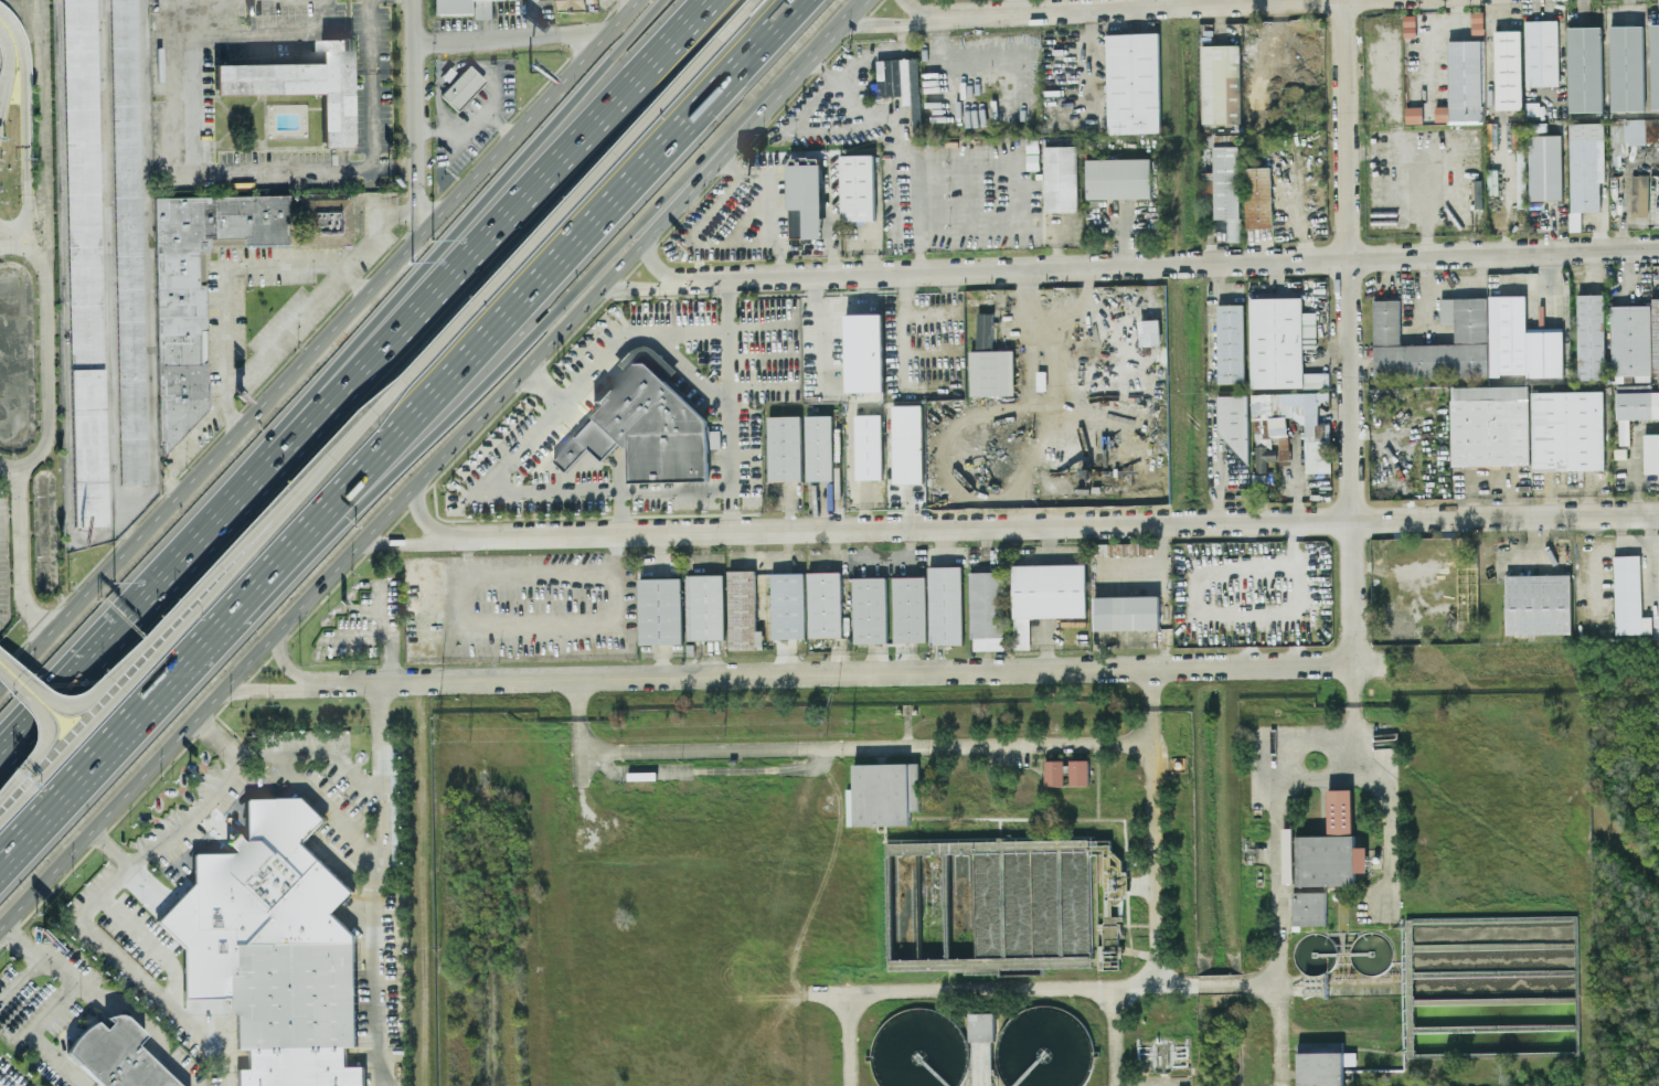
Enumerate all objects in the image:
road: (1145, 3)
building: (574, 6)
road: (1015, 6)
building: (467, 7)
road: (625, 7)
road: (1114, 8)
road: (916, 12)
road: (183, 18)
road: (734, 19)
building: (1477, 22)
road: (885, 24)
road: (270, 32)
road: (828, 32)
road: (509, 40)
road: (1562, 46)
building: (1541, 52)
parking lot: (0, 58)
road: (8, 65)
building: (1655, 65)
building: (1627, 67)
building: (1585, 68)
building: (1508, 70)
building: (445, 75)
building: (901, 83)
building: (1132, 83)
building: (1463, 83)
road: (371, 84)
building: (300, 85)
building: (460, 85)
road: (24, 104)
road: (487, 111)
road: (413, 115)
building: (1415, 116)
road: (891, 117)
road: (500, 125)
building: (1538, 127)
building: (1634, 130)
road: (443, 131)
building: (1517, 134)
road: (42, 135)
building: (1585, 164)
building: (1544, 167)
building: (1520, 171)
road: (231, 172)
building: (1060, 178)
building: (1117, 178)
building: (1208, 181)
building: (858, 187)
road: (1012, 187)
building: (1226, 191)
building: (1639, 192)
building: (1257, 196)
road: (358, 198)
building: (805, 200)
road: (773, 202)
road: (403, 213)
road: (1624, 216)
building: (325, 221)
building: (1574, 221)
road: (19, 222)
road: (23, 222)
road: (28, 228)
road: (456, 230)
road: (486, 235)
road: (17, 238)
road: (6, 239)
building: (128, 241)
road: (17, 247)
road: (39, 262)
building: (84, 262)
road: (110, 262)
road: (650, 262)
road: (1165, 266)
road: (63, 269)
road: (501, 270)
road: (226, 273)
road: (354, 279)
road: (631, 288)
building: (196, 291)
road: (149, 295)
road: (519, 310)
road: (345, 316)
building: (983, 331)
building: (1149, 331)
road: (1349, 331)
building: (1470, 333)
road: (629, 334)
building: (1591, 336)
building: (1636, 340)
road: (515, 341)
building: (1521, 341)
road: (272, 342)
building: (1231, 342)
building: (1282, 343)
road: (1060, 350)
building: (864, 356)
building: (991, 372)
road: (47, 375)
building: (1635, 406)
road: (231, 412)
road: (730, 412)
building: (1489, 425)
building: (1273, 428)
building: (645, 429)
building: (1567, 430)
building: (907, 446)
building: (869, 448)
building: (819, 449)
building: (785, 450)
building: (1651, 453)
road: (7, 461)
road: (1215, 464)
road: (674, 490)
road: (494, 492)
road: (401, 500)
road: (418, 515)
road: (1047, 526)
road: (400, 541)
road: (19, 554)
parking lot: (3, 561)
building: (1045, 595)
building: (1628, 596)
building: (1538, 603)
building: (823, 604)
building: (787, 605)
building: (945, 605)
building: (706, 606)
road: (438, 610)
building: (660, 610)
building: (742, 610)
building: (910, 610)
building: (986, 610)
building: (870, 611)
road: (131, 613)
building: (1126, 613)
road: (586, 619)
road: (358, 633)
road: (383, 633)
road: (147, 635)
road: (32, 653)
road: (142, 659)
road: (283, 666)
road: (850, 672)
road: (6, 673)
road: (6, 680)
road: (268, 689)
road: (578, 715)
road: (1353, 718)
road: (42, 732)
road: (220, 734)
road: (1315, 738)
road: (117, 744)
road: (866, 746)
road: (319, 750)
building: (1053, 771)
building: (1078, 771)
road: (1315, 776)
building: (882, 794)
road: (327, 802)
building: (395, 807)
road: (1156, 826)
road: (1387, 831)
road: (164, 839)
building: (1326, 848)
road: (110, 849)
road: (375, 884)
wastewater plant: (1021, 892)
building: (1308, 907)
road: (1278, 913)
building: (139, 929)
road: (149, 941)
building: (273, 947)
road: (21, 978)
road: (1317, 982)
road: (1220, 984)
road: (1001, 989)
road: (108, 996)
road: (168, 996)
road: (45, 1012)
building: (980, 1025)
road: (1121, 1036)
road: (849, 1039)
building: (115, 1055)
building: (1349, 1057)
road: (55, 1058)
building: (1319, 1066)

